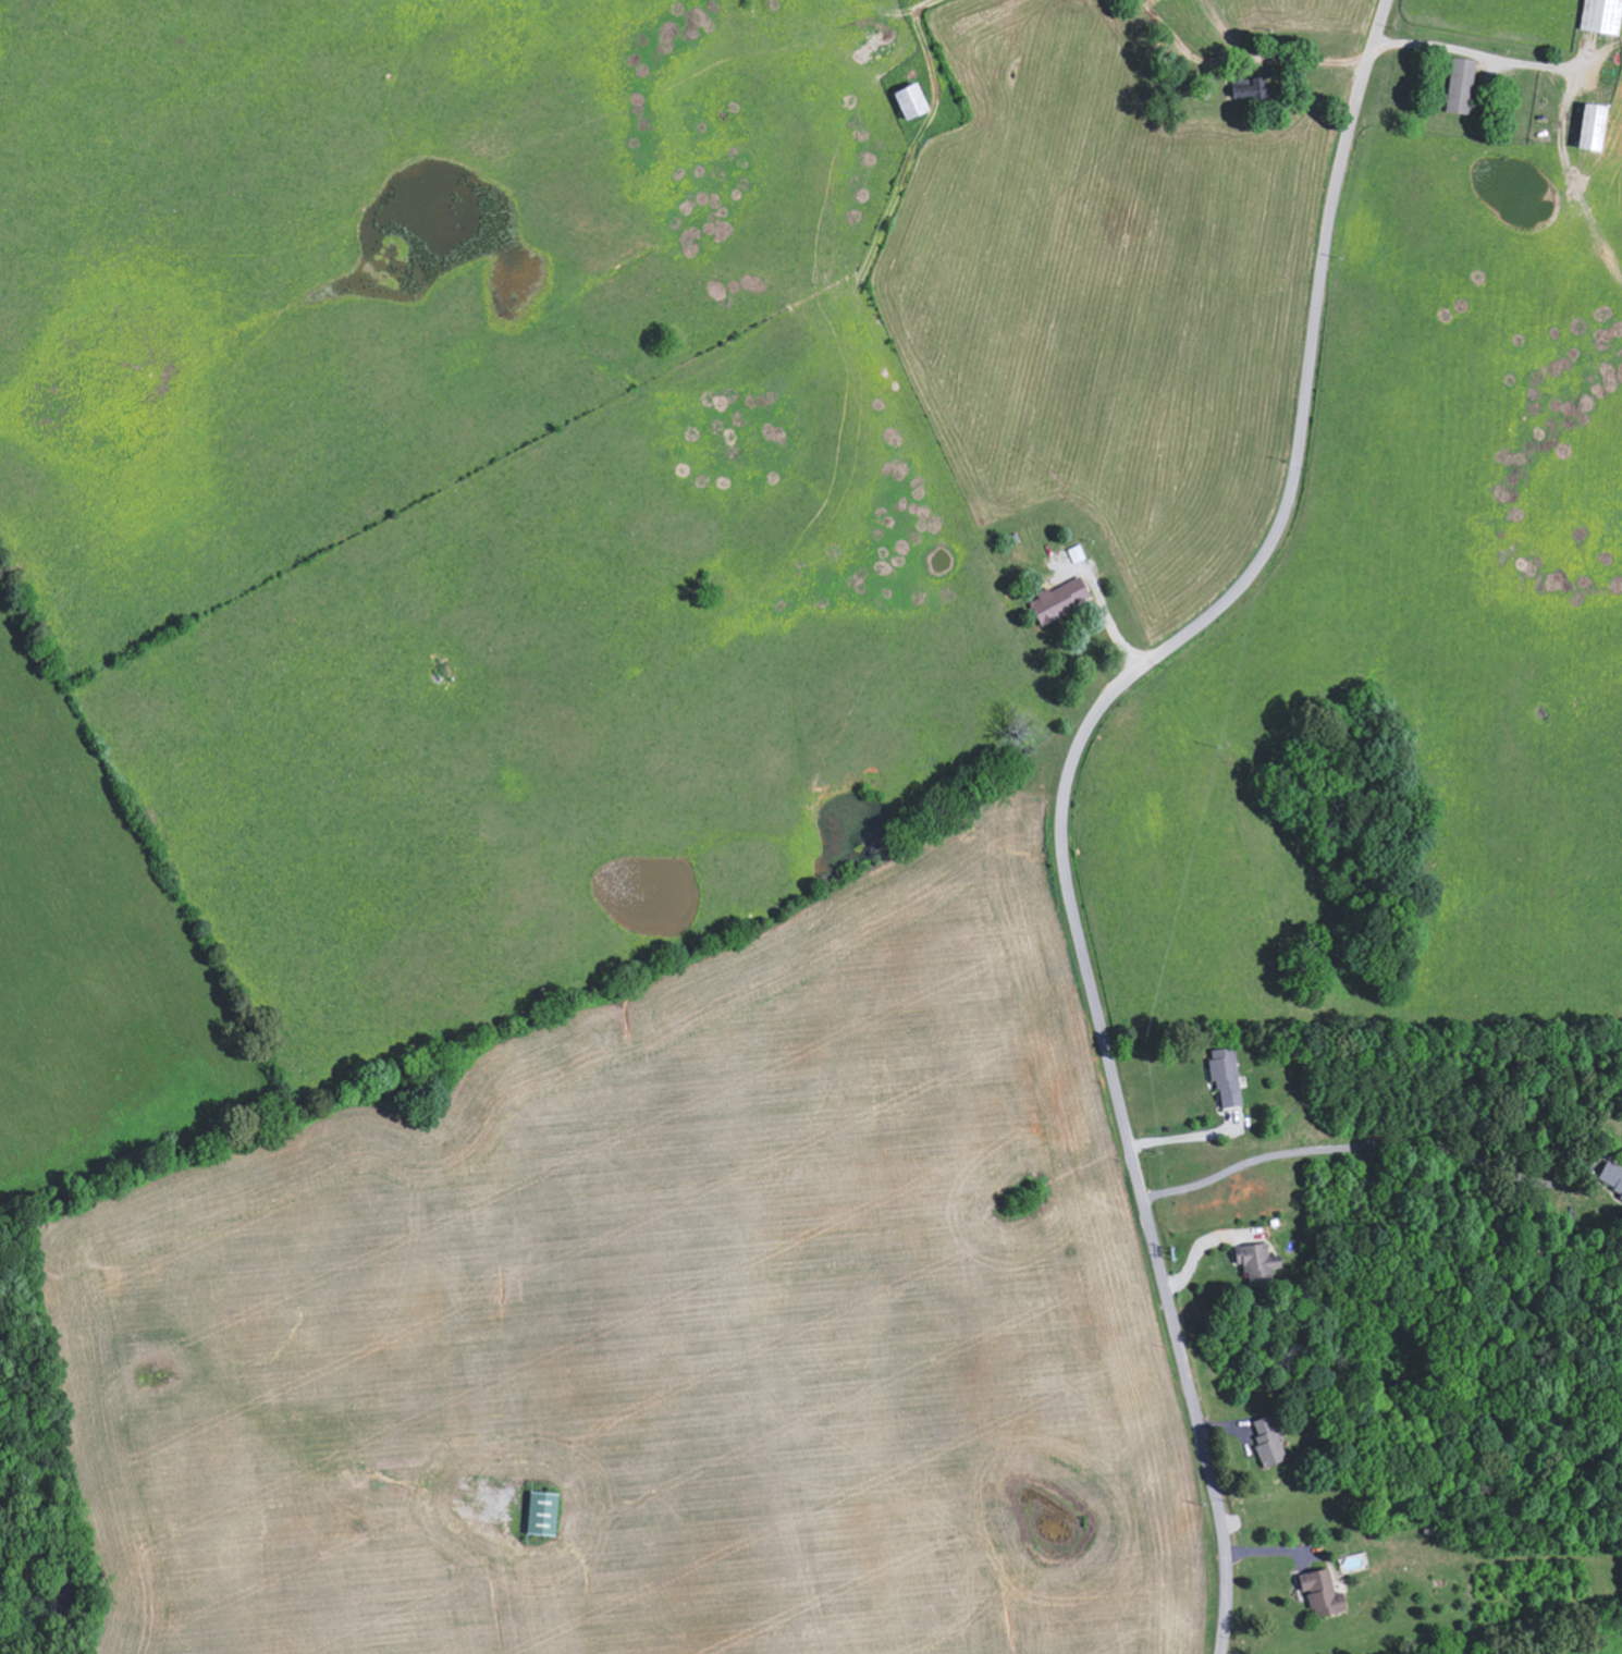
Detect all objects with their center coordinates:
road: (1452, 52)
building: (1464, 85)
building: (916, 100)
building: (1062, 599)
road: (1068, 791)
building: (1229, 1078)
road: (1184, 1142)
road: (1361, 1145)
building: (1612, 1177)
building: (1261, 1263)
building: (1270, 1442)
building: (1325, 1594)

